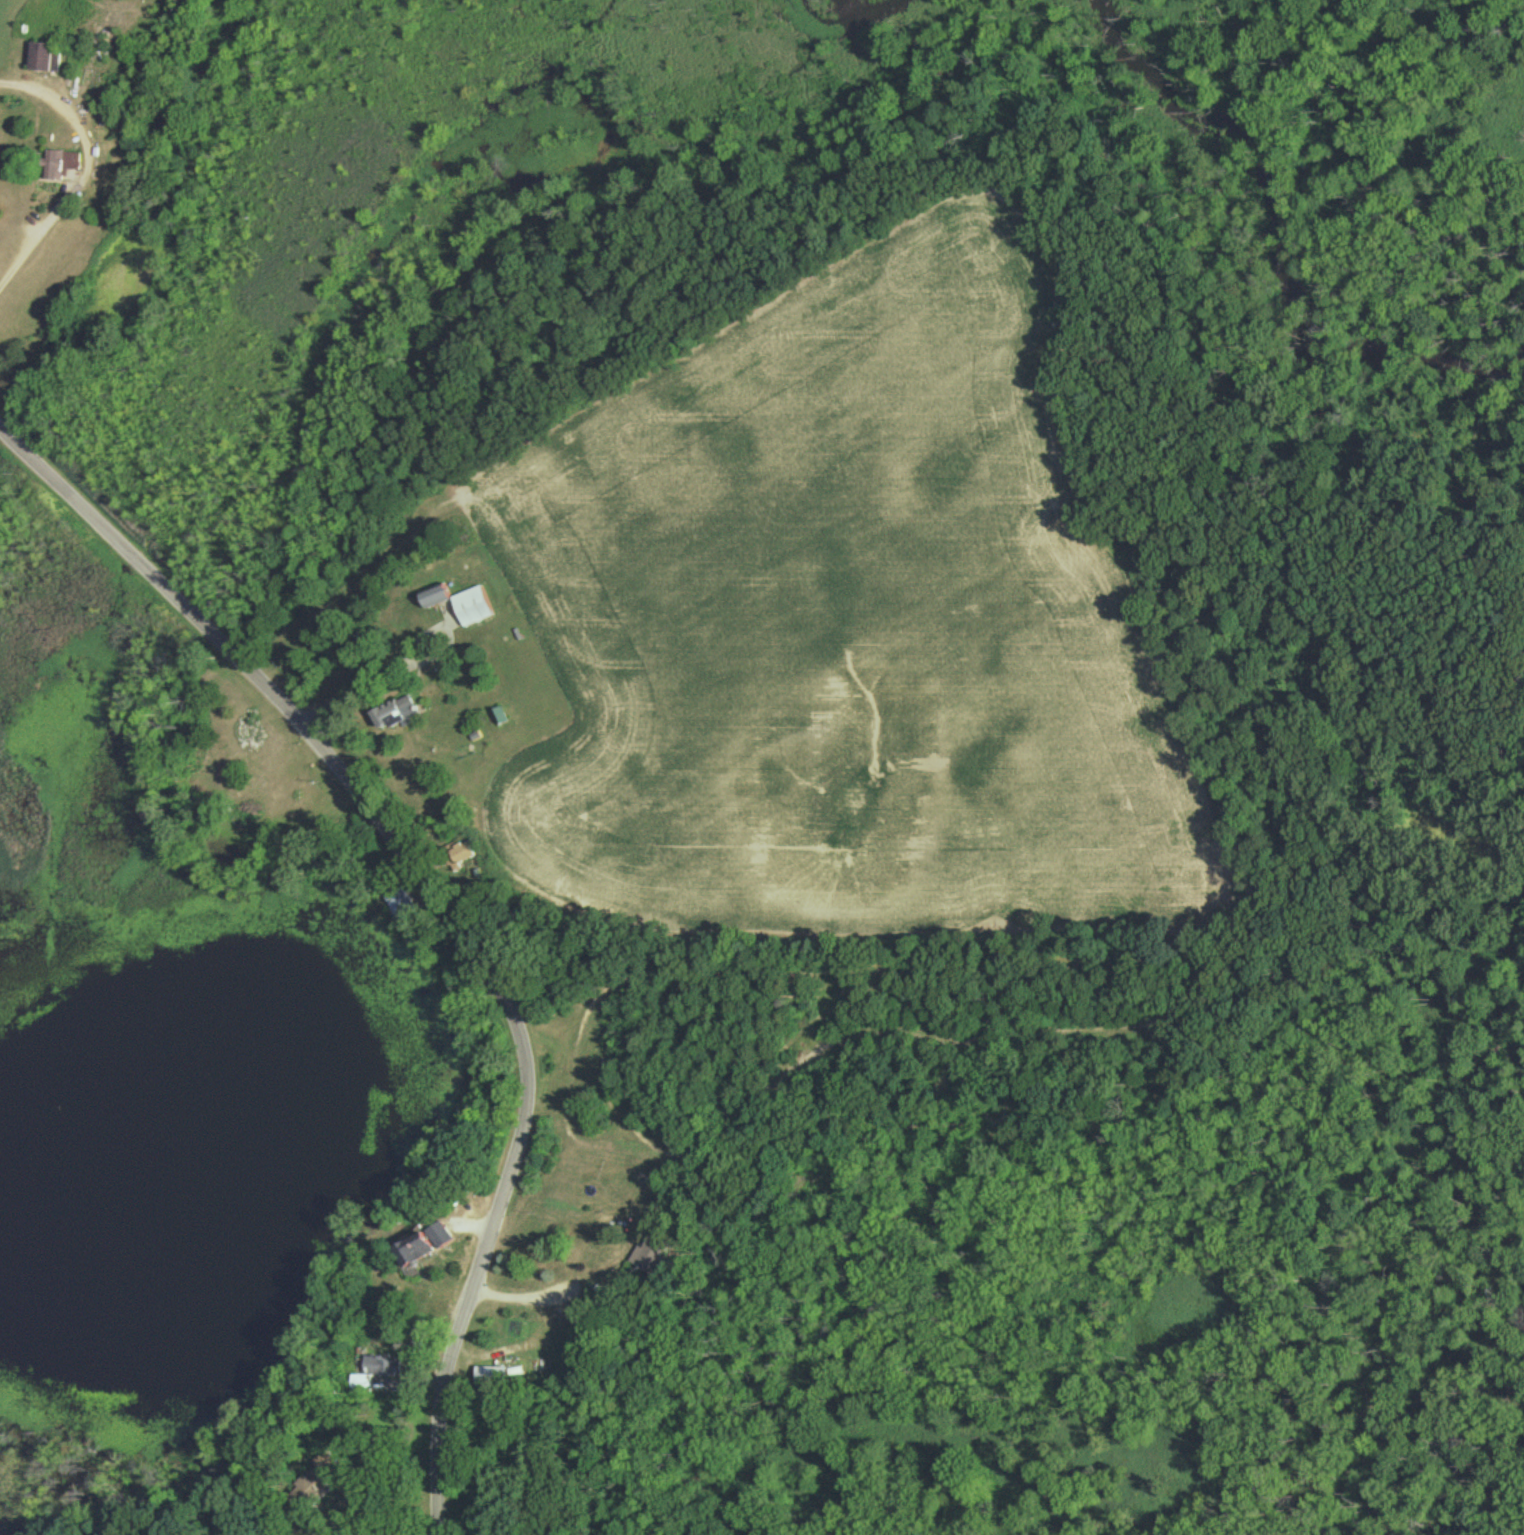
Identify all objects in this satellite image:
building: (43, 59)
building: (57, 166)
building: (433, 599)
building: (471, 609)
building: (392, 715)
building: (461, 854)
building: (397, 907)
road: (448, 910)
building: (422, 1246)
building: (653, 1253)
building: (490, 1375)
building: (308, 1487)

